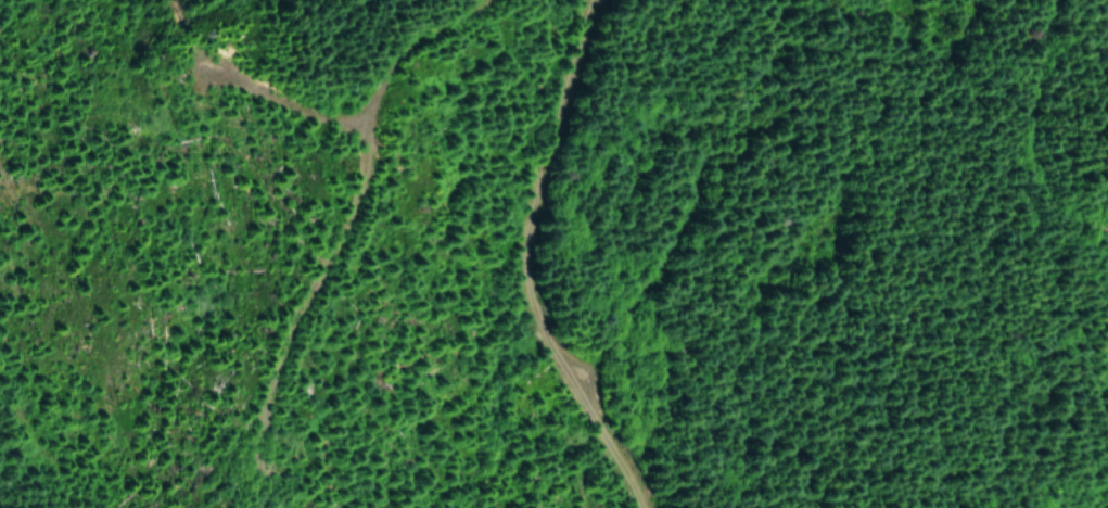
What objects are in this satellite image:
road: (281, 50)
road: (453, 266)
road: (973, 443)

